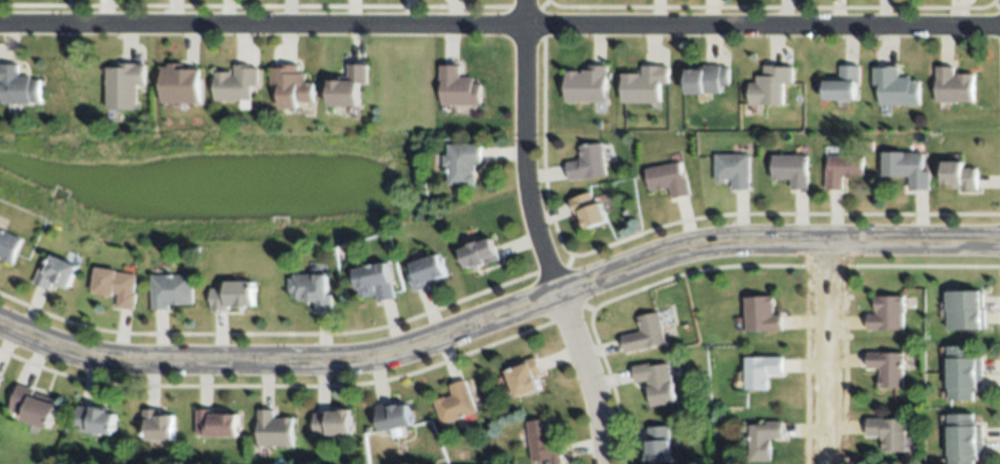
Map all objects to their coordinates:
road: (500, 27)
building: (707, 77)
building: (842, 81)
building: (235, 82)
building: (585, 83)
building: (643, 83)
building: (952, 83)
building: (122, 84)
building: (182, 84)
building: (291, 84)
building: (347, 84)
building: (457, 84)
building: (770, 84)
building: (17, 85)
building: (894, 85)
building: (868, 145)
building: (460, 161)
building: (586, 161)
building: (906, 166)
building: (731, 168)
building: (841, 168)
building: (790, 169)
building: (959, 174)
building: (668, 178)
building: (587, 208)
road: (534, 236)
building: (8, 245)
building: (194, 248)
building: (478, 251)
building: (425, 271)
building: (55, 272)
building: (374, 281)
building: (115, 285)
building: (310, 287)
building: (171, 289)
building: (230, 293)
building: (963, 308)
building: (886, 312)
building: (761, 313)
road: (500, 319)
building: (644, 333)
road: (823, 352)
building: (886, 366)
building: (762, 369)
building: (963, 371)
building: (0, 375)
building: (523, 376)
building: (0, 379)
building: (655, 380)
building: (454, 402)
building: (33, 407)
building: (392, 414)
building: (94, 418)
building: (332, 421)
building: (214, 422)
building: (156, 423)
building: (273, 428)
building: (887, 430)
building: (763, 438)
building: (965, 438)
building: (542, 441)
building: (657, 444)

